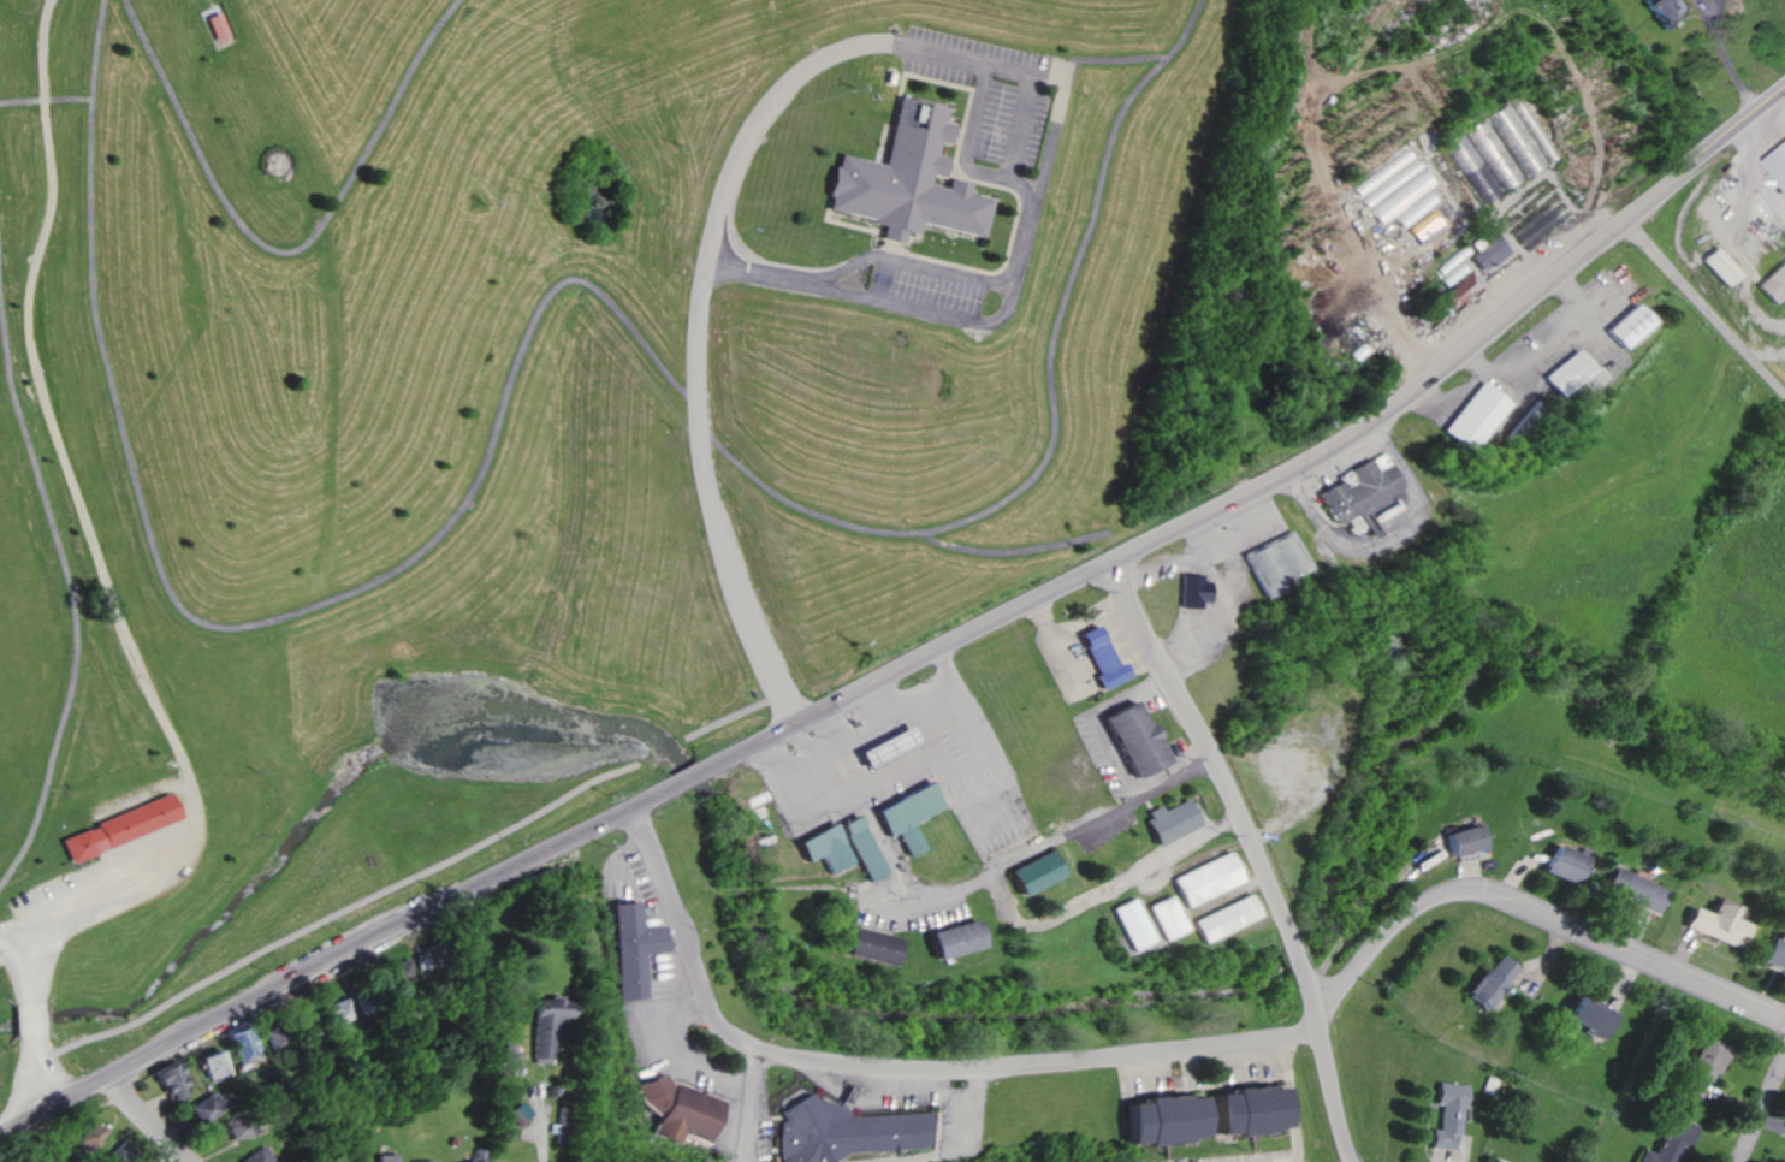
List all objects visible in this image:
building: (1660, 11)
building: (220, 26)
road: (856, 43)
road: (1109, 58)
road: (48, 96)
road: (1781, 97)
road: (1021, 125)
road: (969, 147)
building: (1780, 161)
flagpole: (283, 164)
road: (1756, 168)
building: (1388, 178)
building: (911, 179)
building: (1401, 198)
building: (1415, 211)
building: (1423, 227)
road: (289, 251)
building: (1487, 251)
road: (914, 257)
building: (1718, 266)
road: (1743, 278)
building: (1772, 283)
building: (1458, 291)
road: (1702, 310)
building: (1624, 326)
building: (1570, 374)
road: (1055, 413)
building: (1472, 416)
road: (1277, 475)
building: (1357, 488)
building: (1376, 508)
road: (89, 518)
road: (1014, 550)
building: (1270, 563)
road: (71, 571)
building: (1191, 591)
road: (247, 621)
building: (1101, 652)
road: (938, 672)
road: (846, 736)
building: (1127, 737)
building: (885, 746)
gas station: (885, 746)
road: (687, 778)
road: (1227, 787)
building: (903, 813)
building: (137, 818)
building: (1163, 820)
road: (865, 824)
road: (1049, 838)
building: (1460, 840)
building: (83, 842)
road: (621, 846)
building: (824, 846)
building: (861, 846)
building: (1556, 862)
building: (1028, 871)
building: (1204, 878)
road: (1105, 889)
building: (1629, 889)
road: (1535, 915)
building: (1164, 917)
building: (1223, 918)
building: (1129, 923)
building: (1709, 923)
road: (13, 925)
building: (948, 938)
building: (865, 944)
building: (631, 948)
building: (1771, 953)
road: (331, 958)
road: (28, 964)
building: (397, 970)
road: (671, 974)
building: (1489, 979)
building: (338, 1012)
building: (1588, 1015)
road: (29, 1018)
building: (540, 1025)
building: (239, 1045)
road: (672, 1049)
building: (506, 1051)
road: (1245, 1054)
building: (209, 1062)
road: (900, 1066)
road: (1141, 1066)
building: (1698, 1071)
road: (31, 1074)
building: (165, 1079)
road: (1335, 1093)
road: (1287, 1097)
road: (746, 1103)
building: (202, 1107)
building: (674, 1109)
building: (1243, 1109)
building: (1447, 1115)
road: (1765, 1115)
building: (1156, 1117)
road: (141, 1120)
building: (236, 1127)
building: (840, 1131)
road: (539, 1132)
building: (87, 1137)
building: (1667, 1142)
building: (256, 1155)
building: (474, 1156)
building: (385, 1157)
building: (420, 1161)
building: (1493, 1161)

